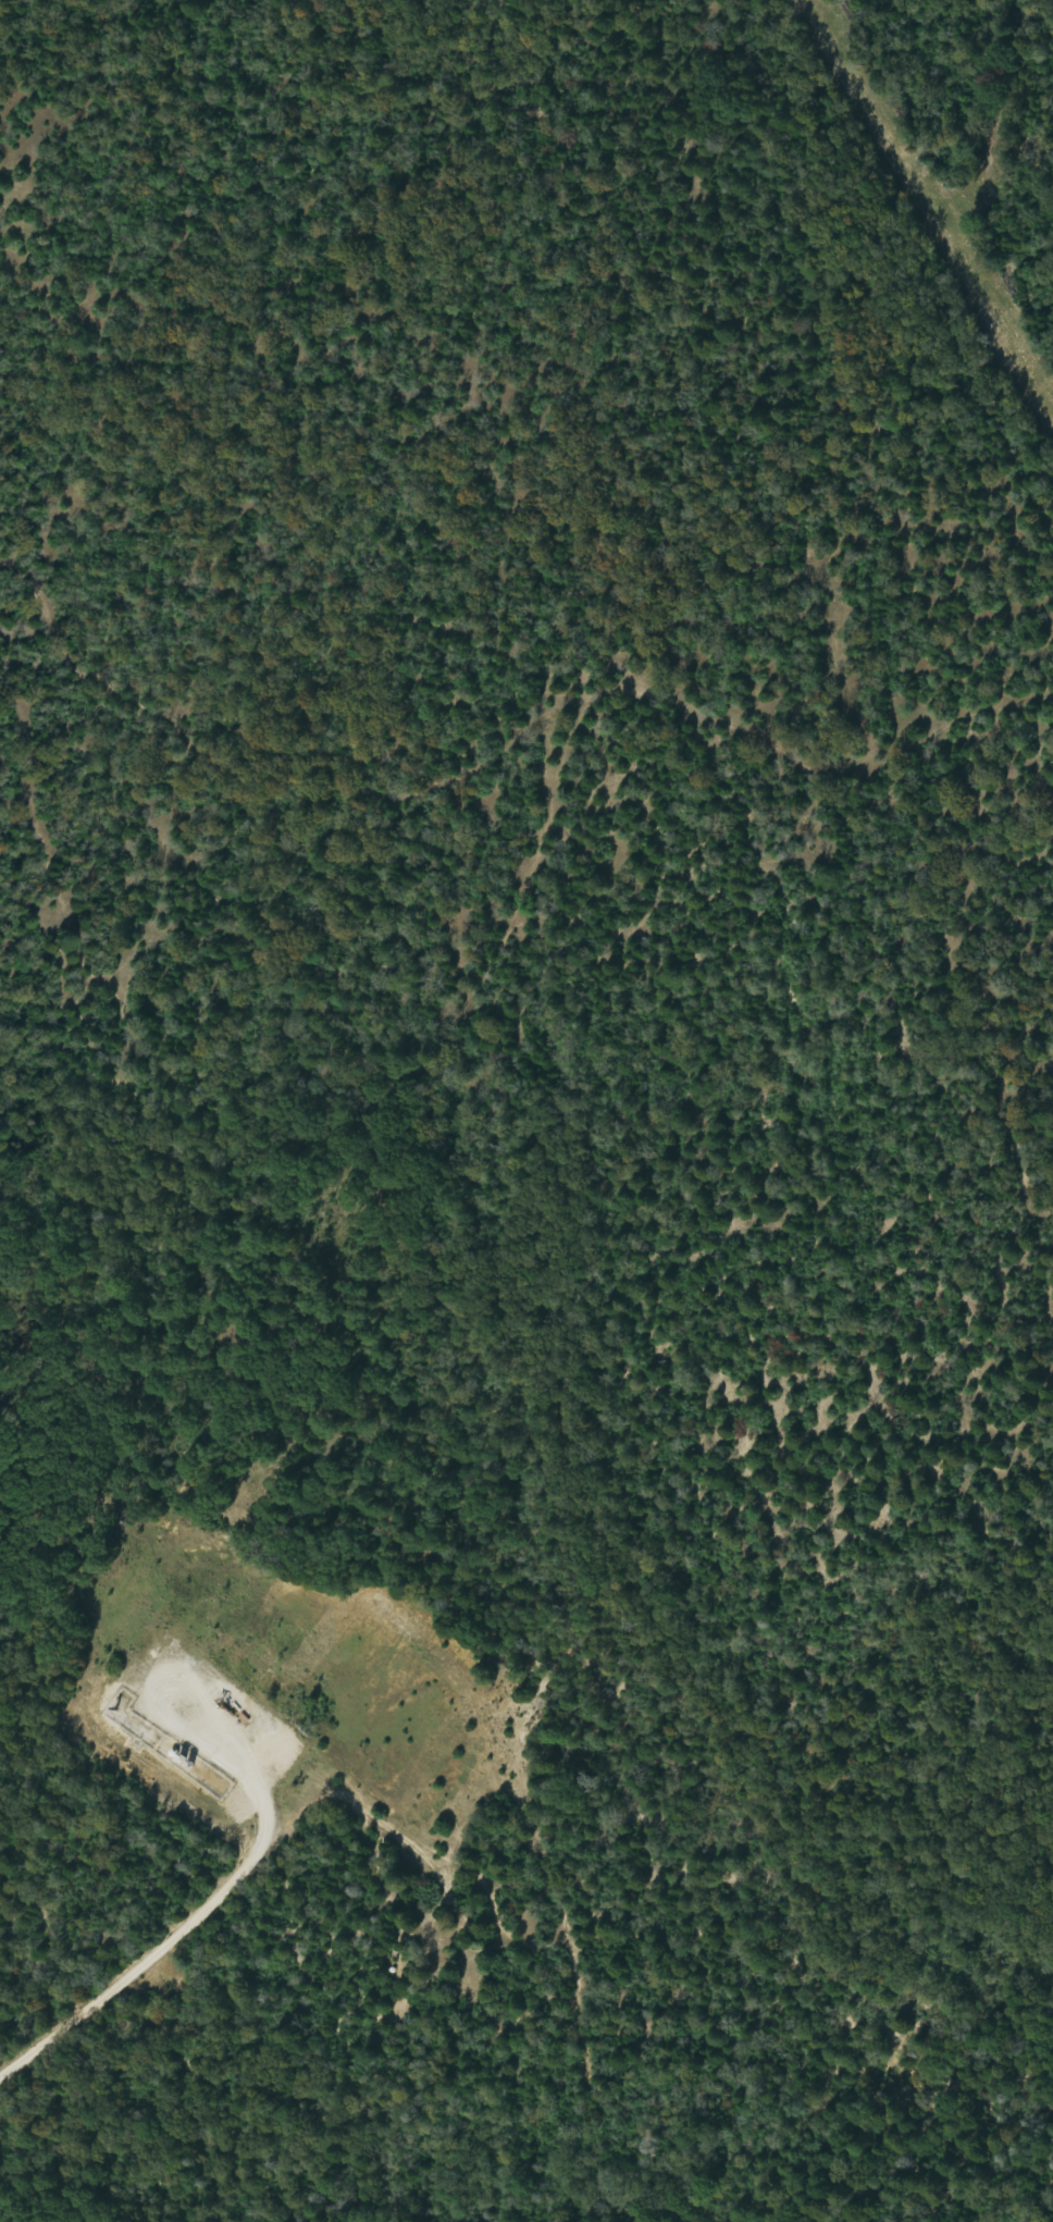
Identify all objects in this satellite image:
road: (152, 1681)
petroleum well: (225, 1704)
chimney: (116, 1708)
chimney: (143, 1735)
silo: (174, 1754)
silo: (182, 1760)
silo: (189, 1766)
road: (172, 1939)

